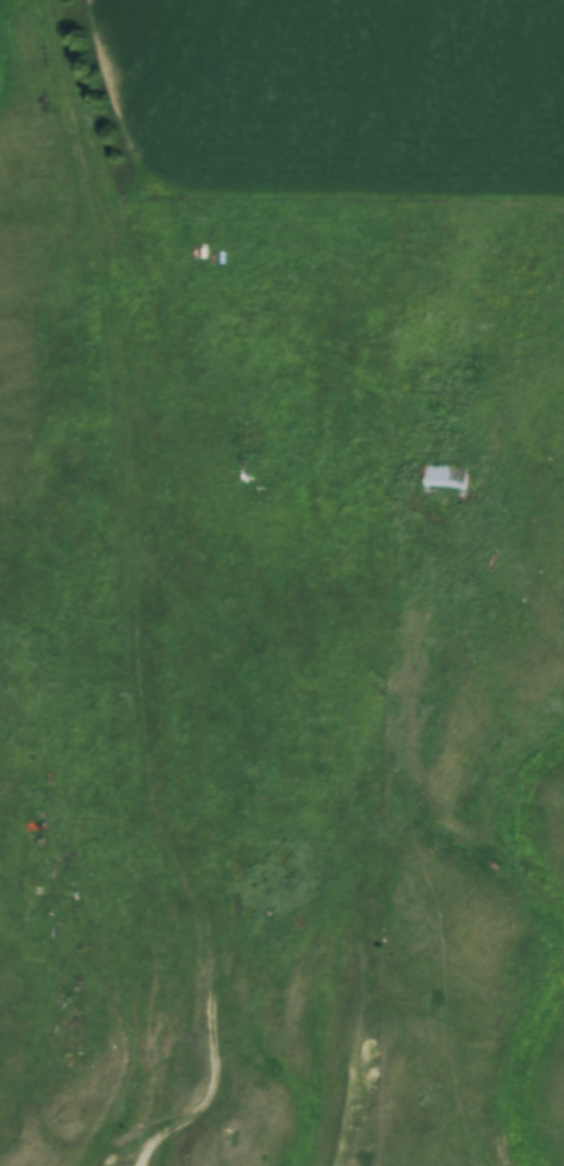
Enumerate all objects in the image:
building: (442, 485)

